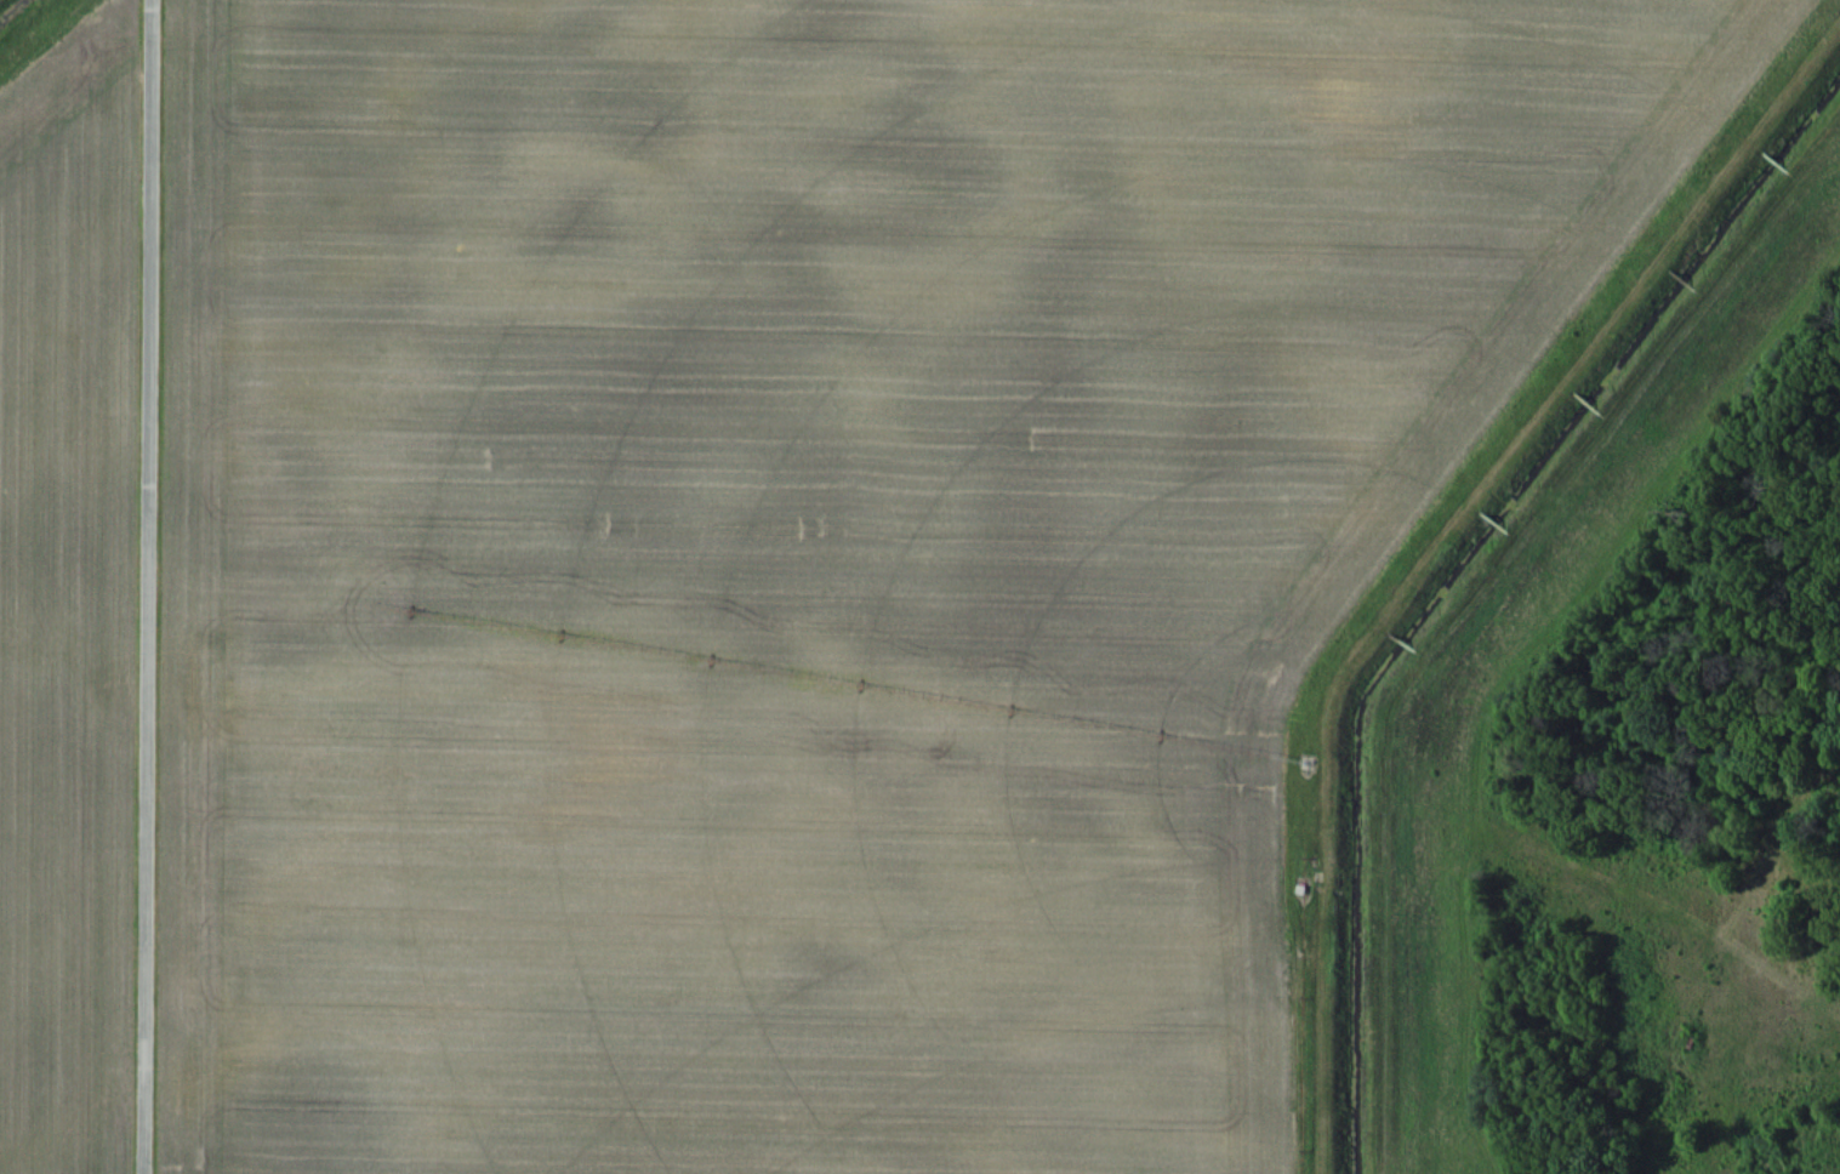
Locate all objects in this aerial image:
road: (141, 587)

